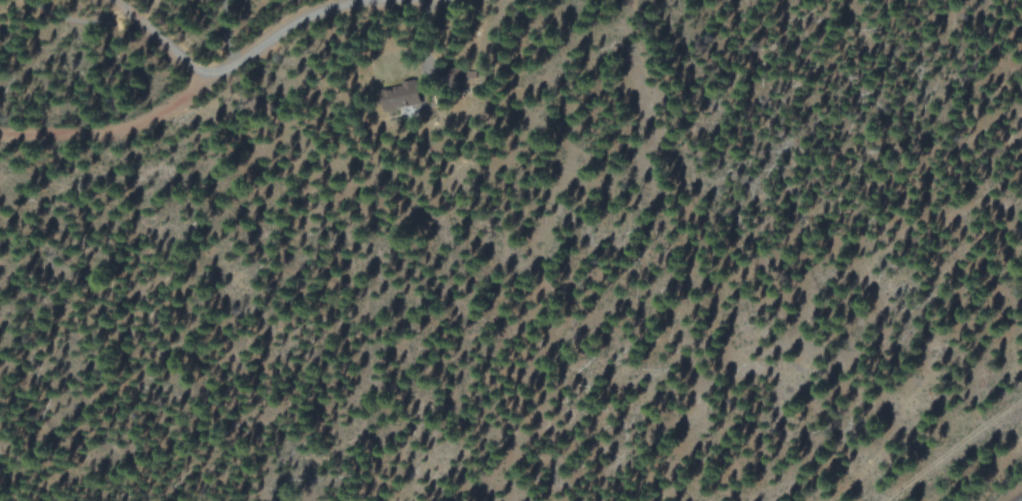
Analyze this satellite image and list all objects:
road: (156, 43)
road: (206, 83)
building: (404, 99)

